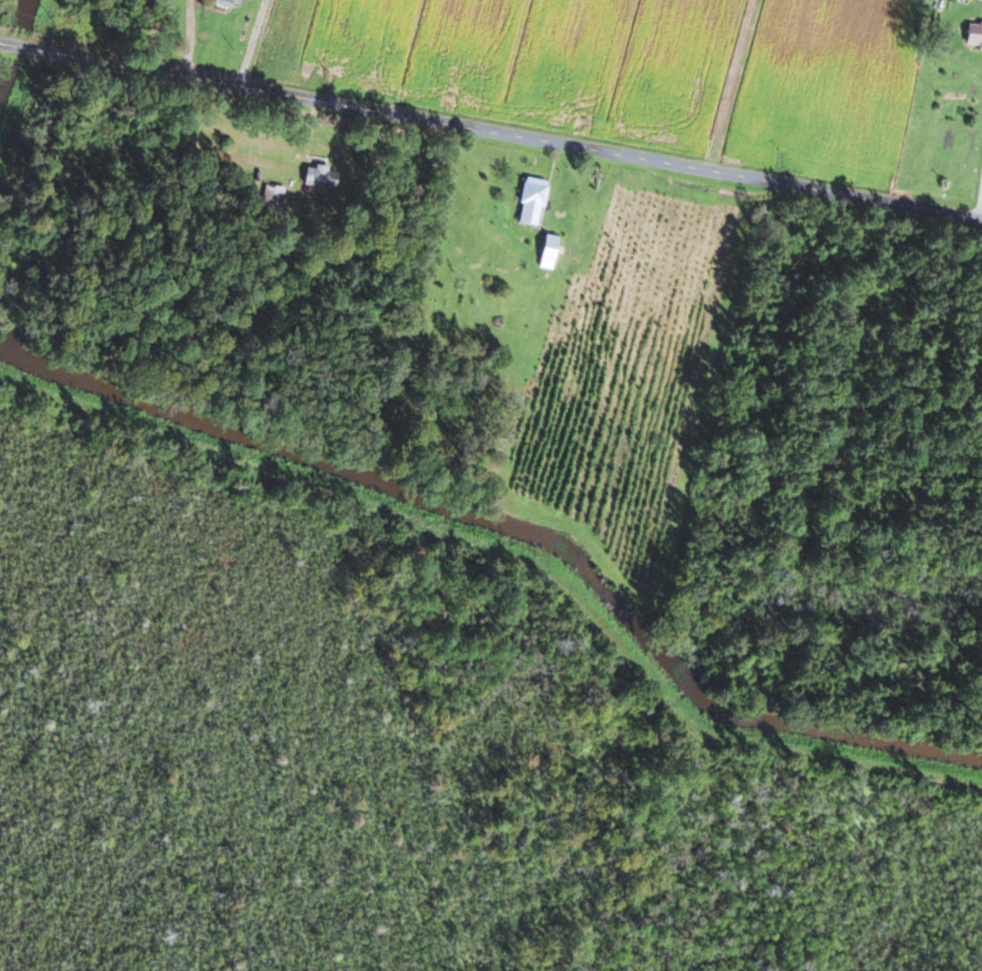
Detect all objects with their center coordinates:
building: (228, 2)
building: (973, 34)
road: (190, 41)
road: (250, 45)
crop: (529, 60)
crop: (824, 87)
road: (490, 135)
building: (319, 176)
building: (271, 197)
building: (531, 200)
road: (979, 208)

